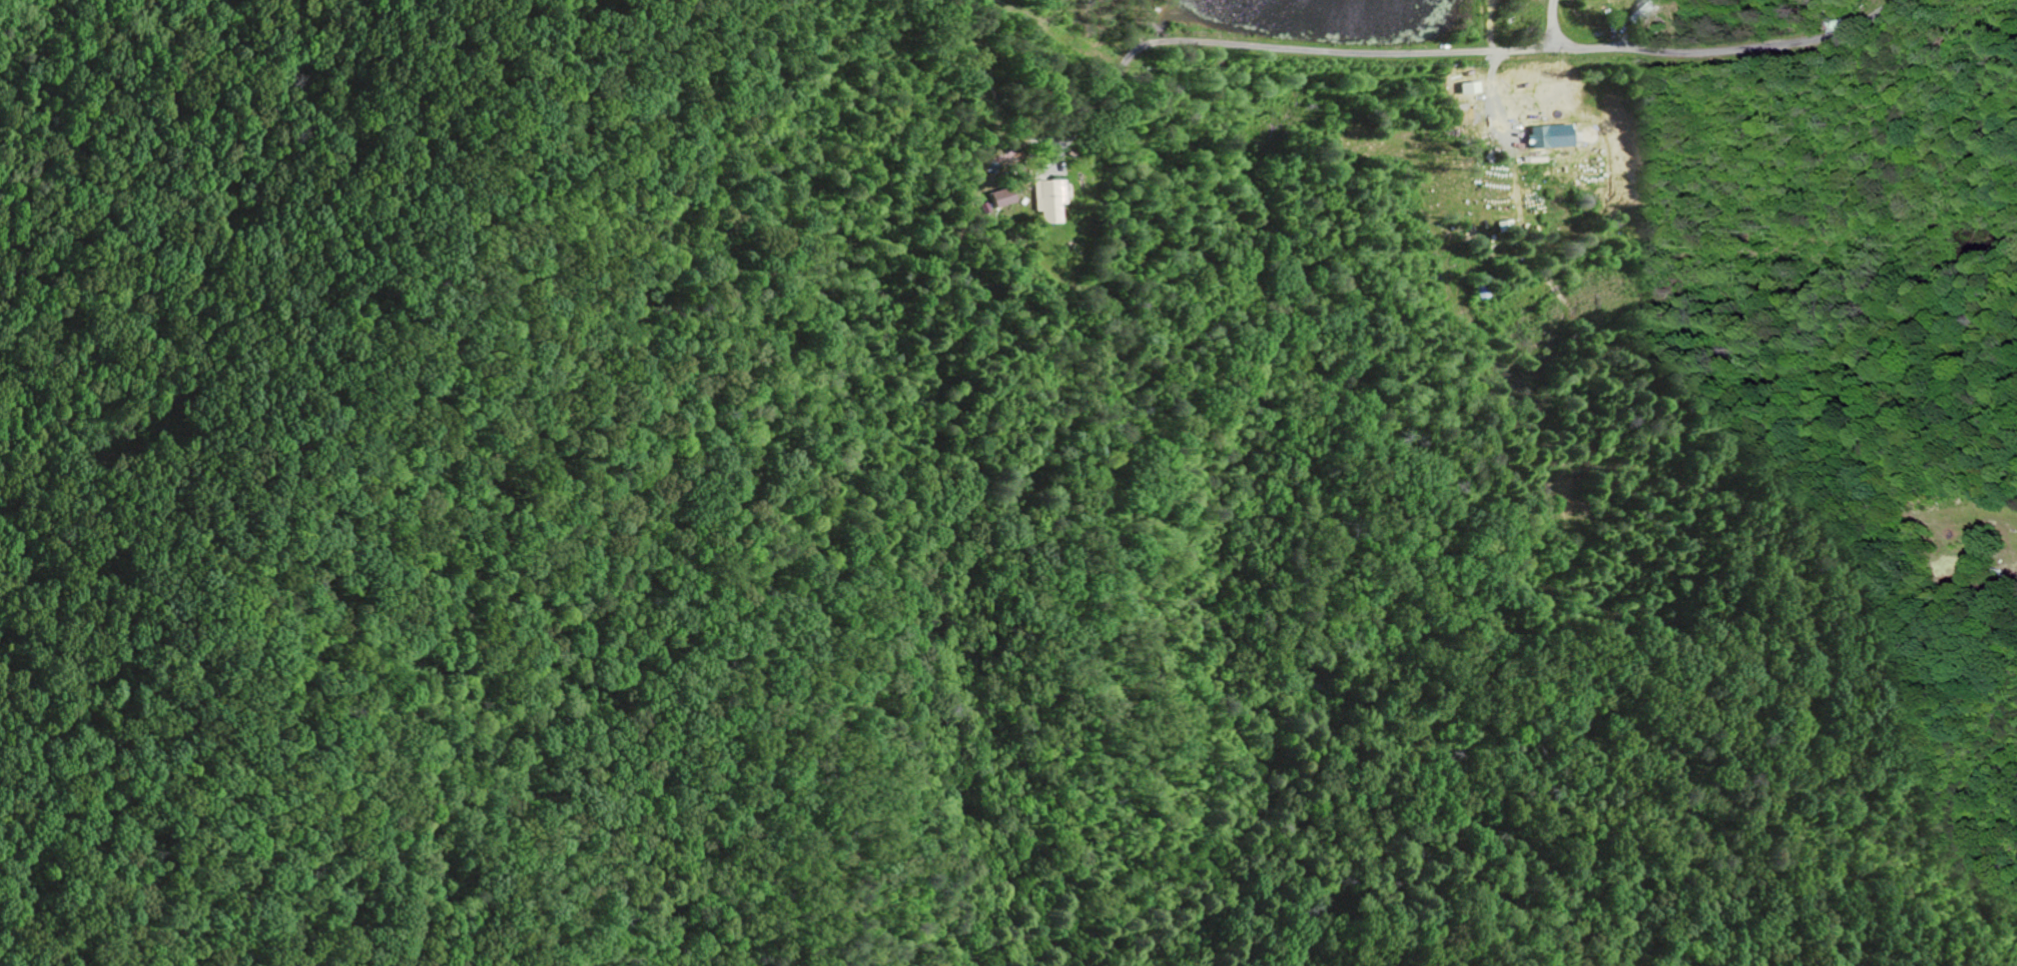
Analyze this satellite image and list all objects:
road: (1299, 51)
road: (1709, 51)
building: (1548, 137)
building: (999, 198)
building: (1045, 201)

